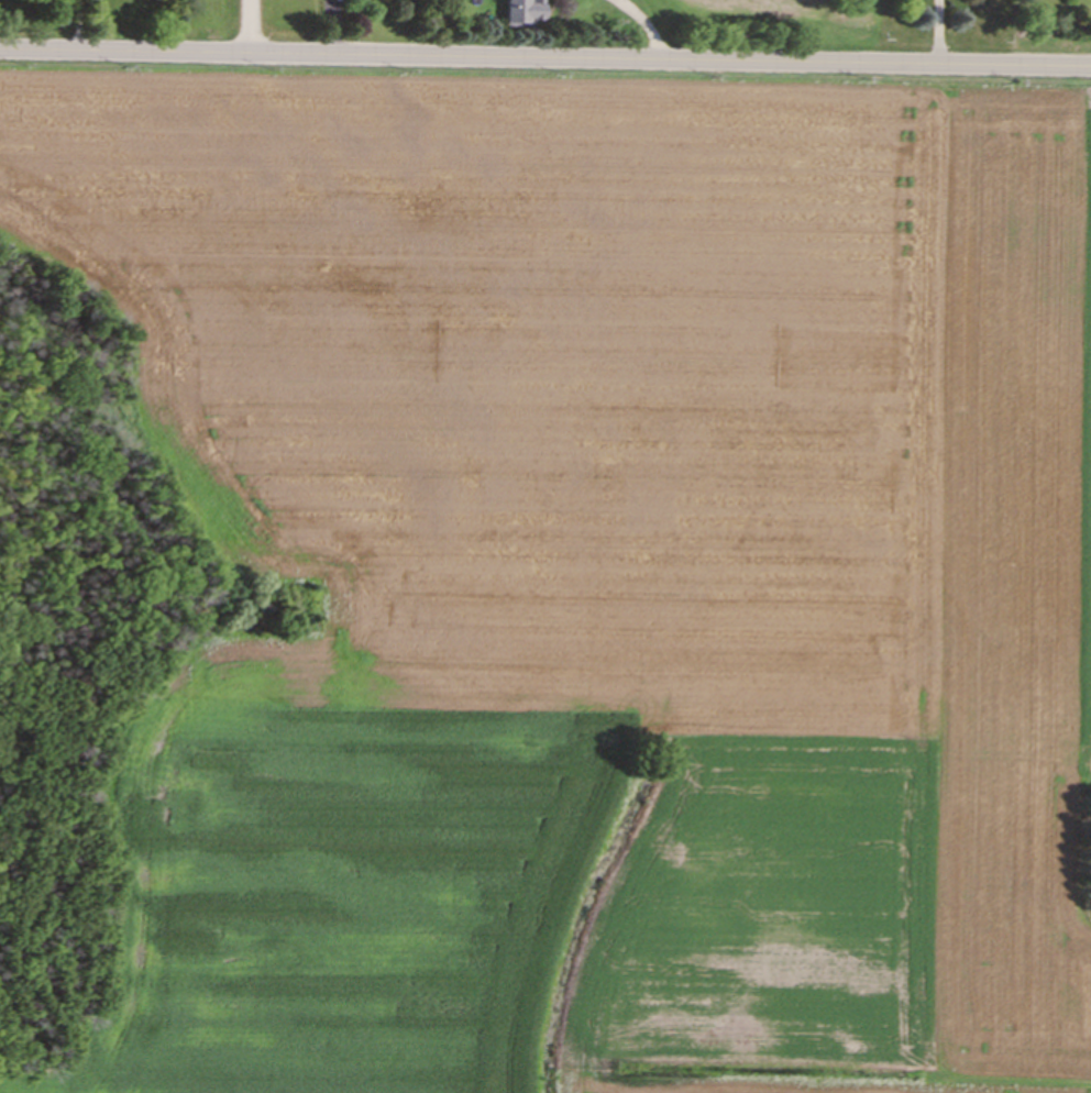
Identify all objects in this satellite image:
building: (532, 13)
road: (648, 23)
road: (74, 24)
road: (544, 57)
crop: (599, 579)

